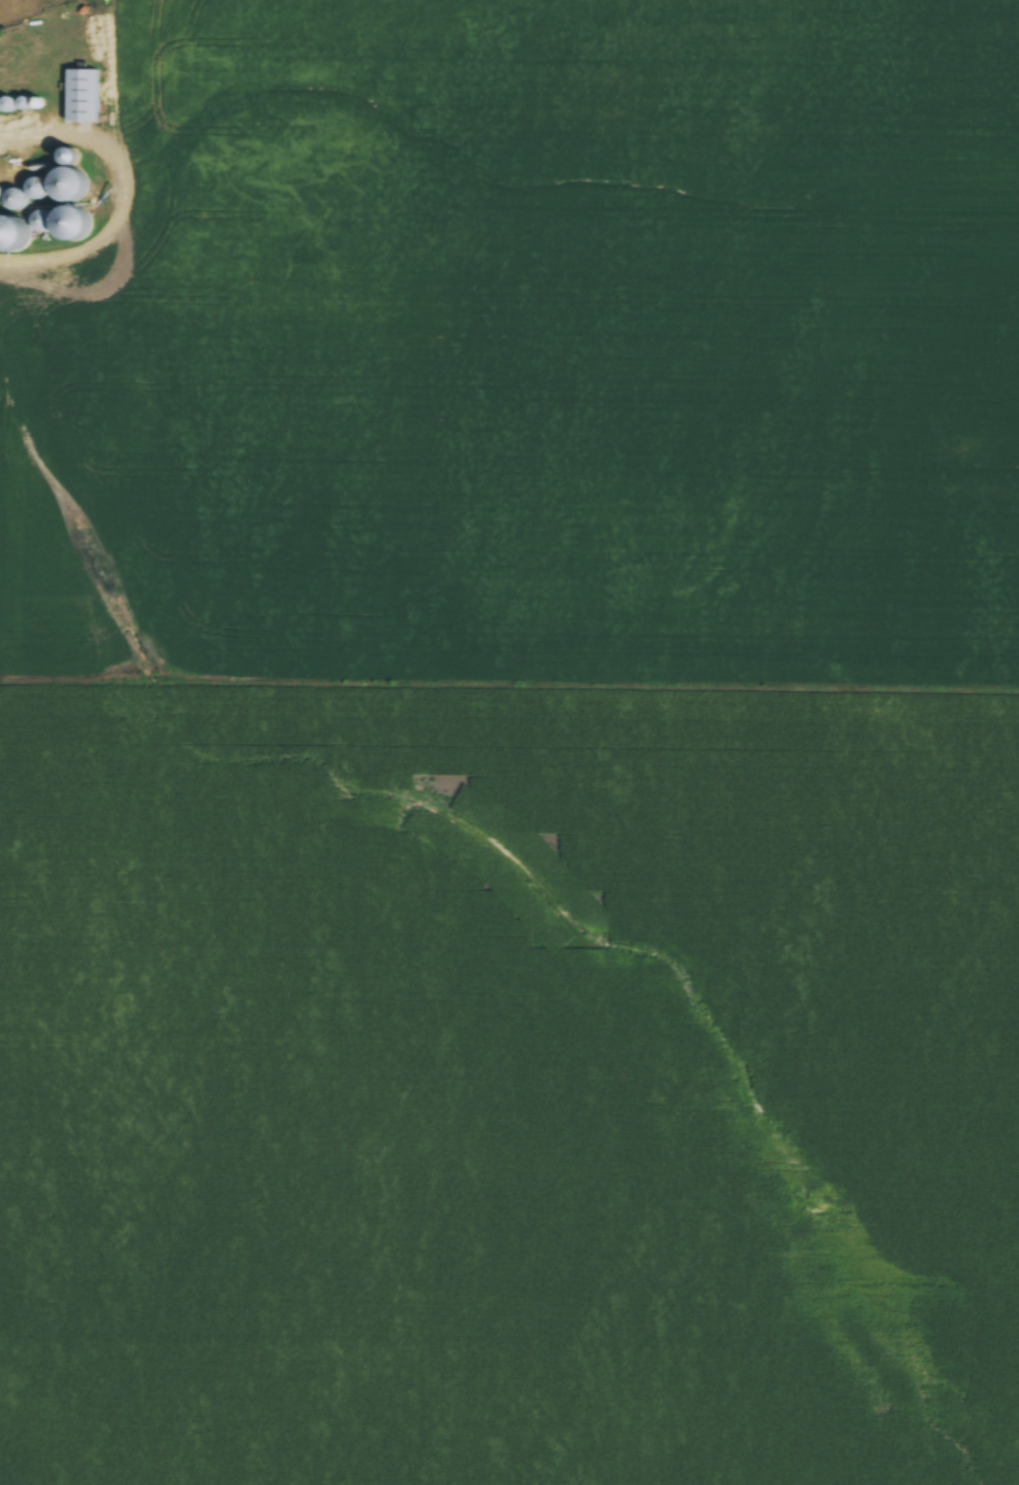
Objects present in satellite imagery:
building: (80, 98)
road: (130, 198)

